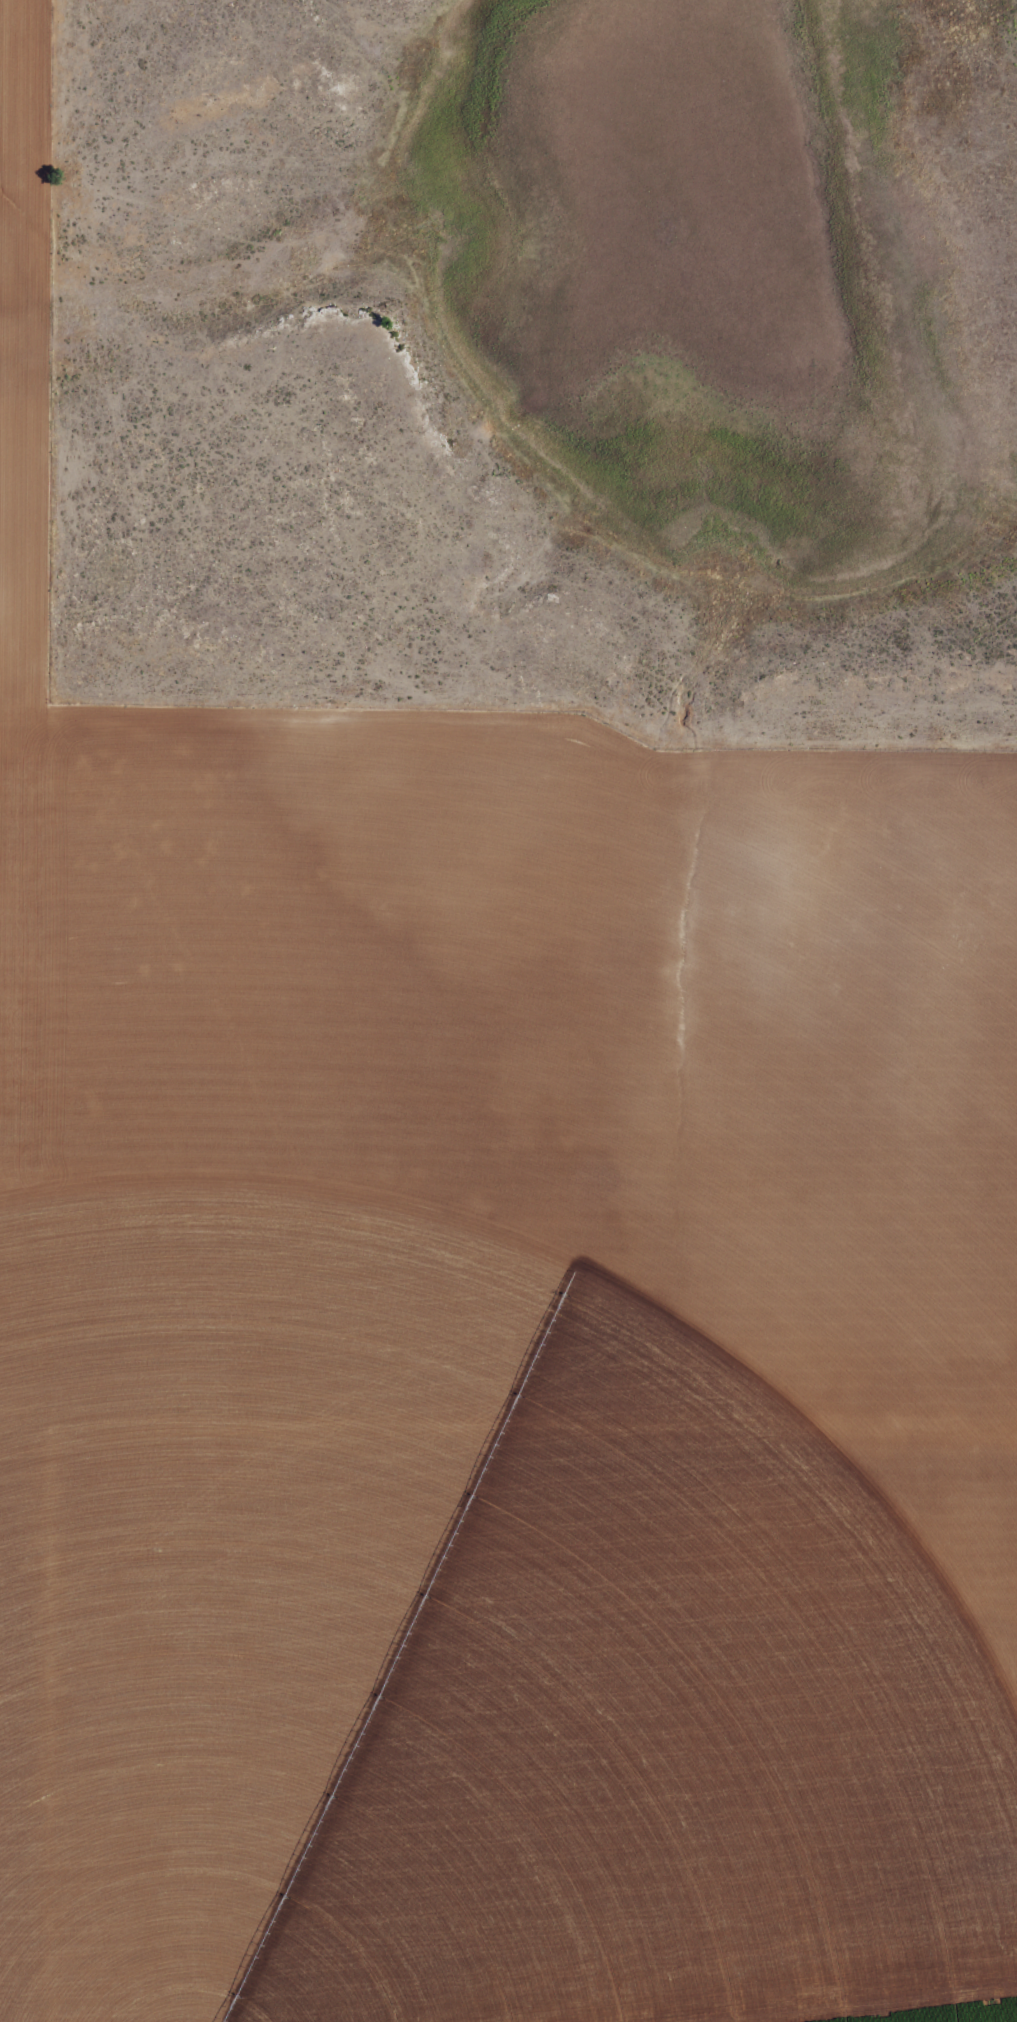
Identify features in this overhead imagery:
road: (508, 1422)
road: (90, 1719)

